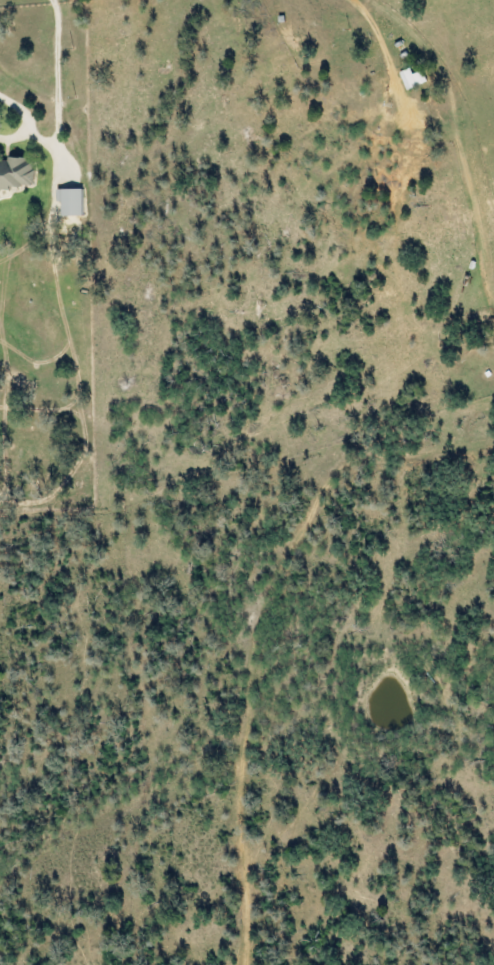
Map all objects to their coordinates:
building: (410, 79)
building: (15, 175)
building: (67, 202)

